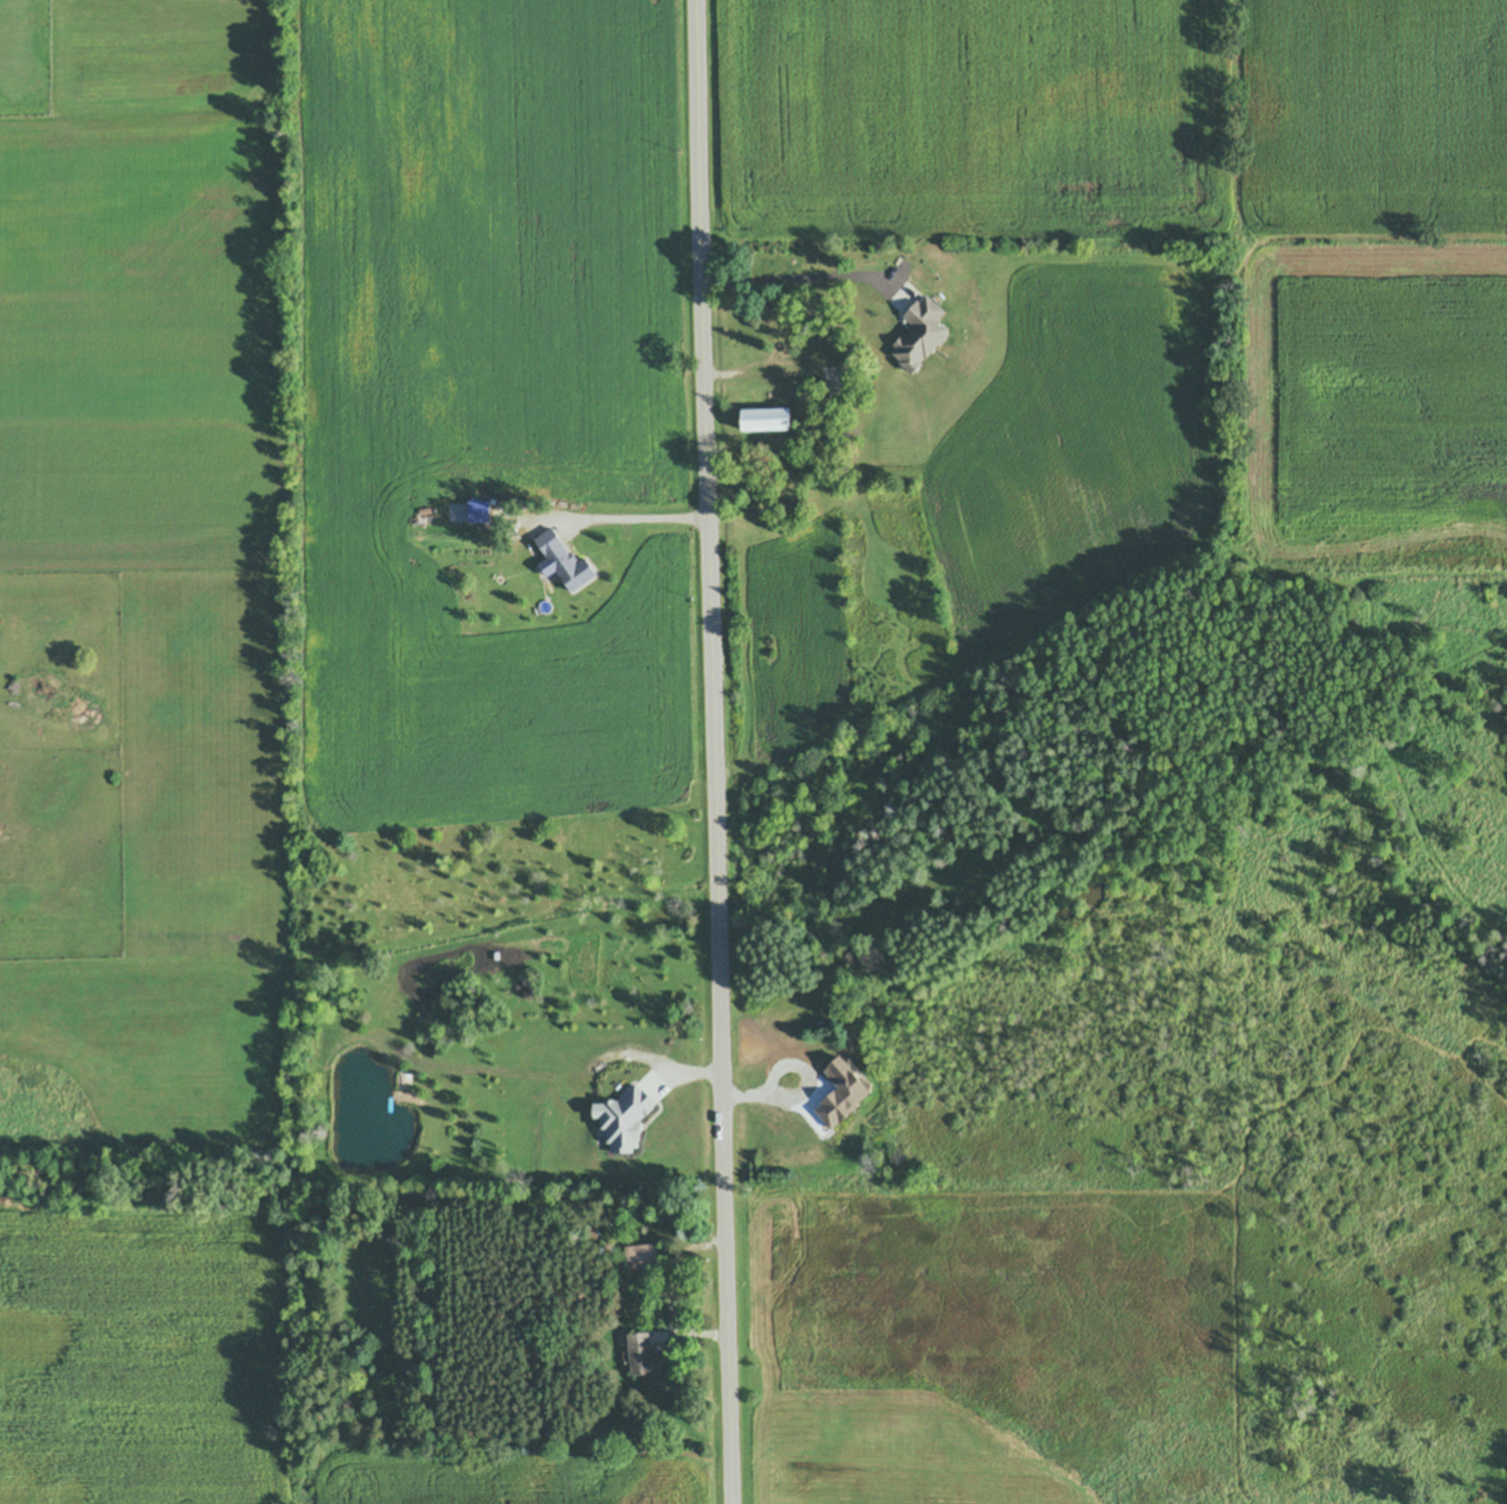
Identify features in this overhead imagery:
road: (797, 277)
building: (777, 316)
building: (920, 332)
building: (766, 418)
building: (479, 510)
road: (638, 513)
building: (564, 560)
building: (549, 568)
building: (465, 602)
road: (715, 752)
building: (1219, 890)
building: (389, 952)
building: (853, 1068)
road: (800, 1092)
building: (842, 1093)
building: (587, 1110)
building: (626, 1116)
building: (601, 1128)
building: (604, 1220)
building: (590, 1231)
building: (607, 1247)
building: (643, 1256)
building: (643, 1354)

